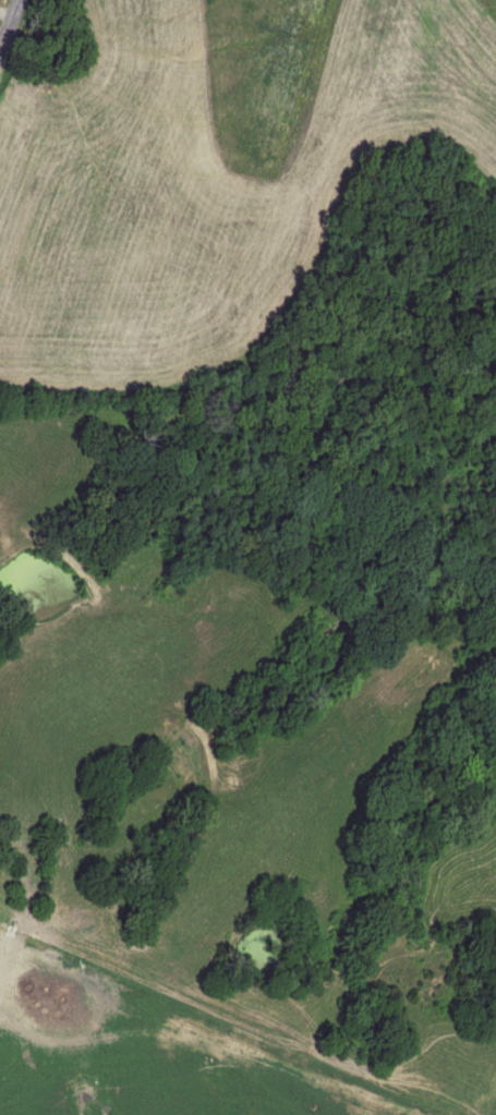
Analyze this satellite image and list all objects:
road: (10, 24)

